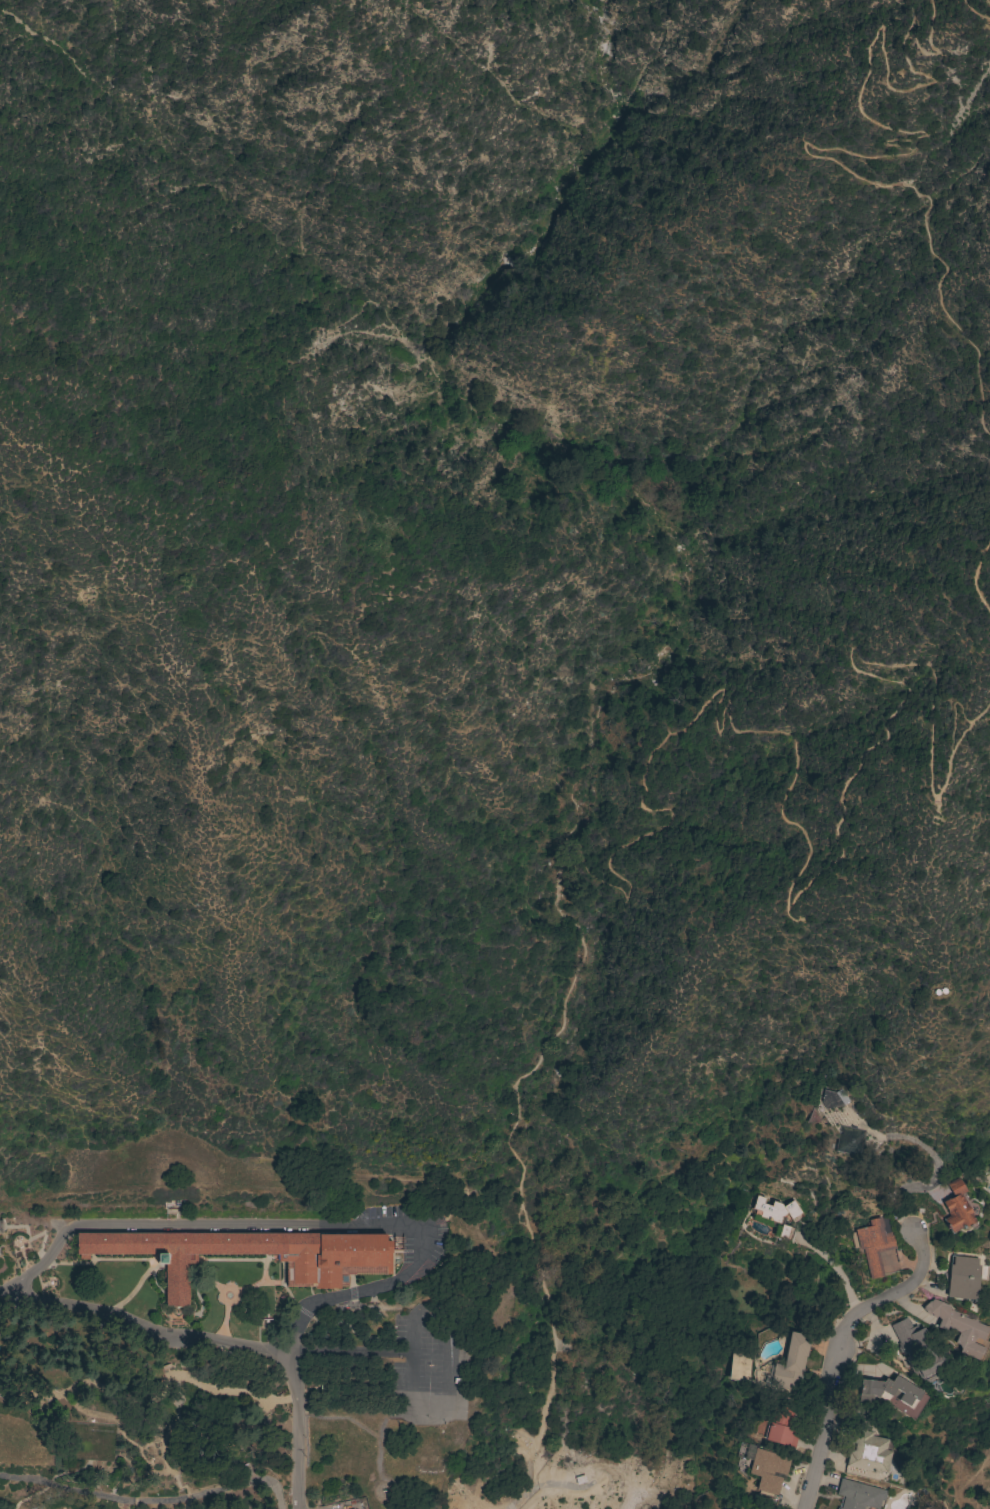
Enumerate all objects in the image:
road: (986, 4)
road: (973, 13)
road: (925, 135)
road: (976, 375)
road: (975, 575)
road: (953, 712)
road: (559, 831)
road: (800, 864)
building: (833, 1099)
building: (850, 1140)
road: (933, 1179)
building: (955, 1209)
building: (776, 1215)
road: (274, 1226)
building: (874, 1245)
road: (835, 1267)
building: (339, 1269)
building: (962, 1278)
road: (147, 1328)
building: (959, 1329)
road: (835, 1349)
building: (918, 1350)
building: (790, 1363)
building: (887, 1391)
road: (293, 1405)
building: (780, 1427)
building: (867, 1451)
building: (767, 1470)
road: (544, 1486)
building: (858, 1495)
road: (148, 1499)
building: (741, 1508)
building: (744, 1508)

